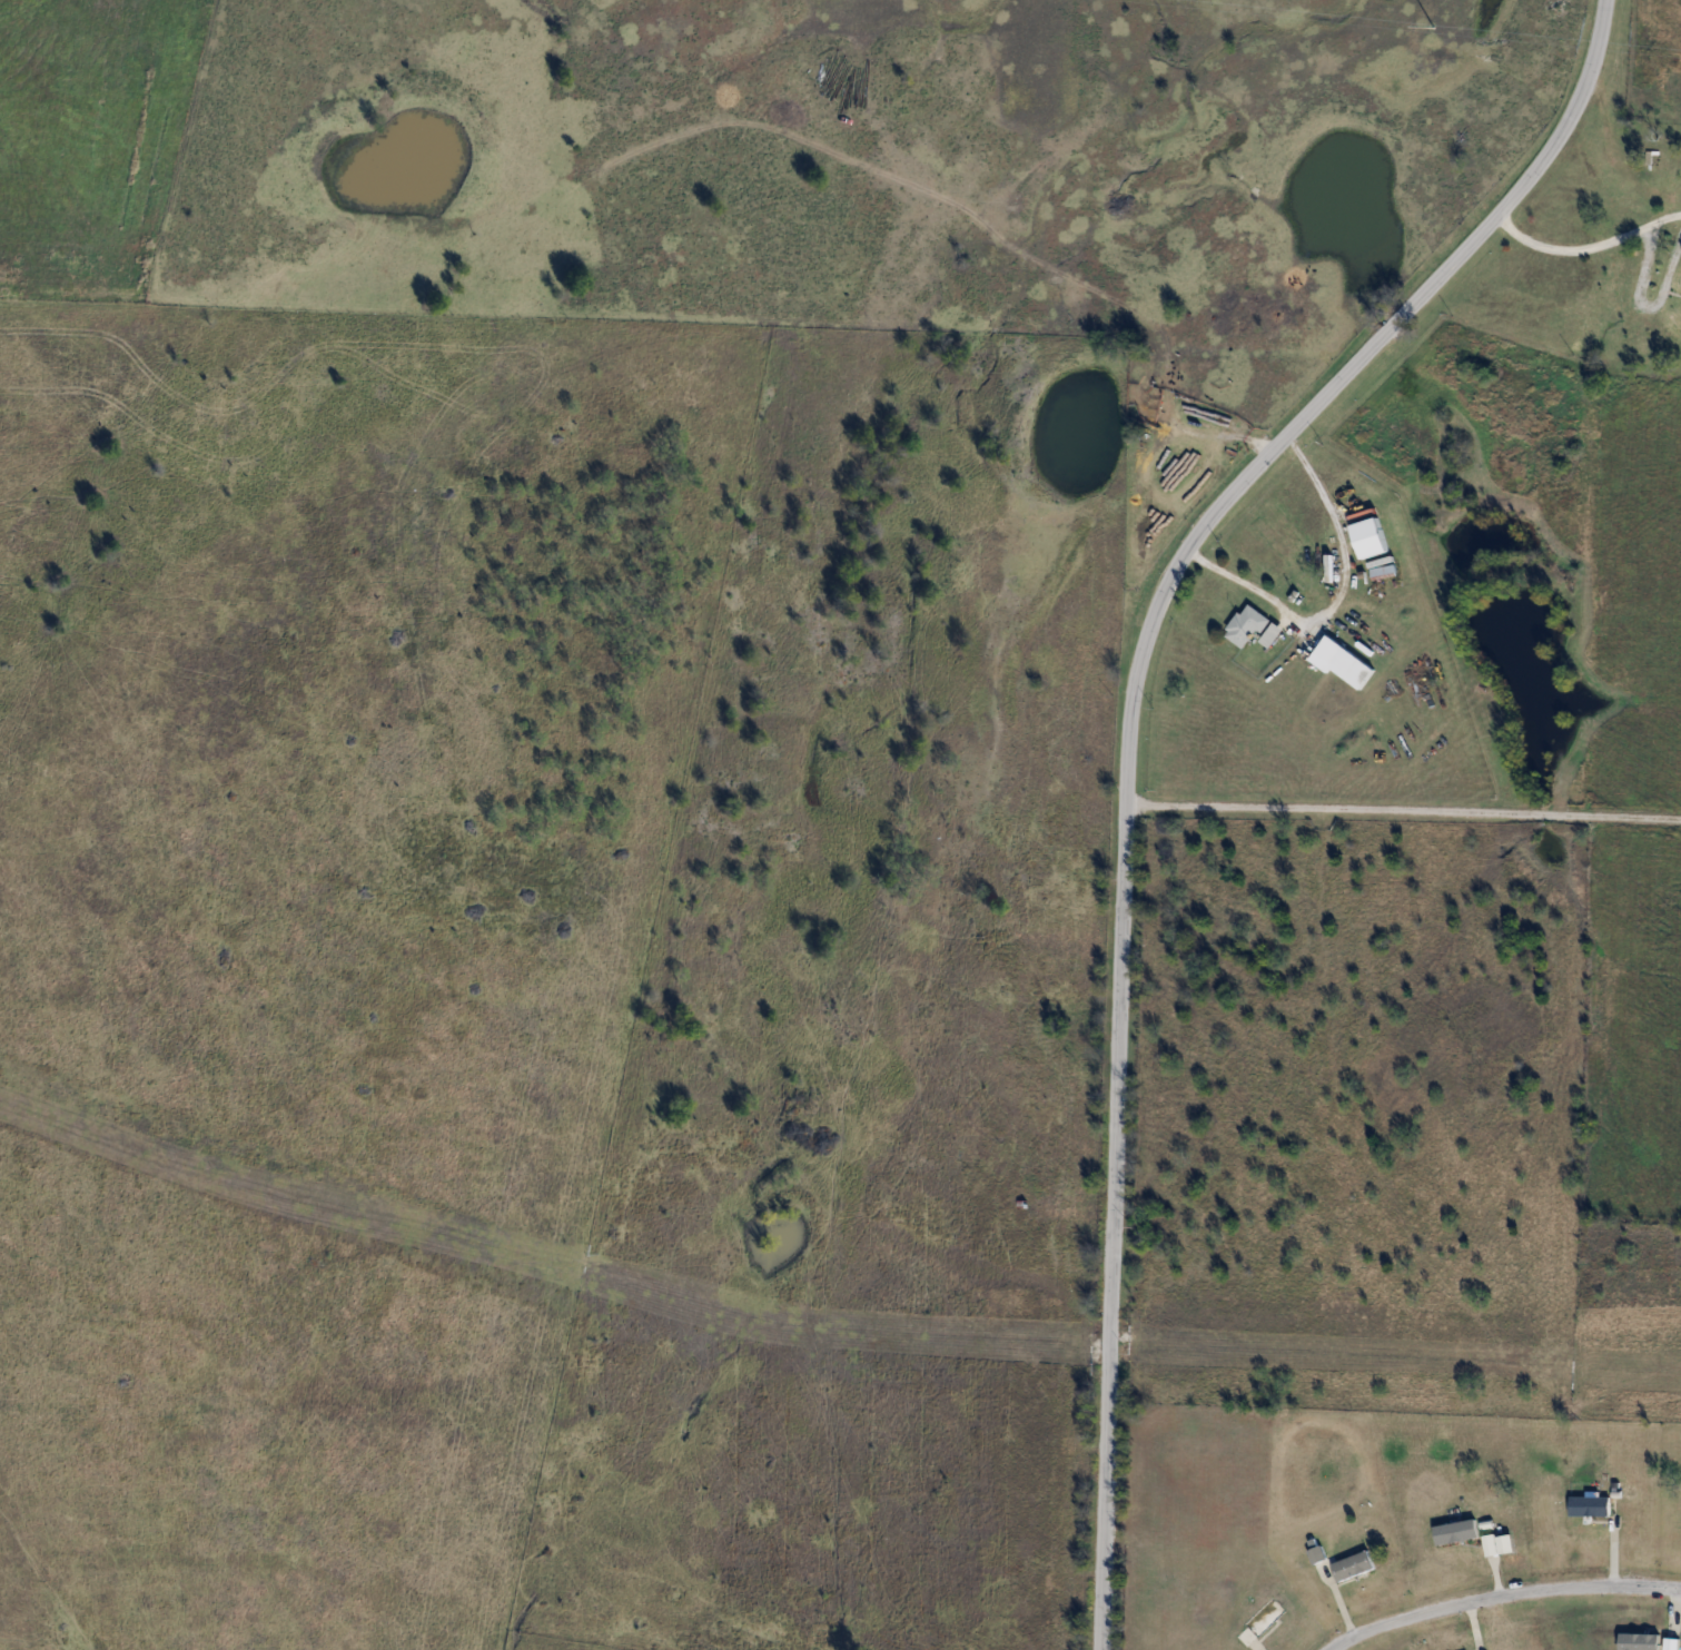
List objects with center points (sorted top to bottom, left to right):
power tower: (1434, 28)
road: (1585, 245)
building: (1371, 537)
building: (1383, 571)
road: (1336, 594)
building: (1246, 626)
building: (1272, 635)
building: (1342, 662)
road: (1128, 742)
road: (1402, 808)
building: (1584, 1509)
building: (1454, 1530)
building: (1317, 1554)
building: (1354, 1567)
road: (1500, 1597)
building: (1260, 1623)

